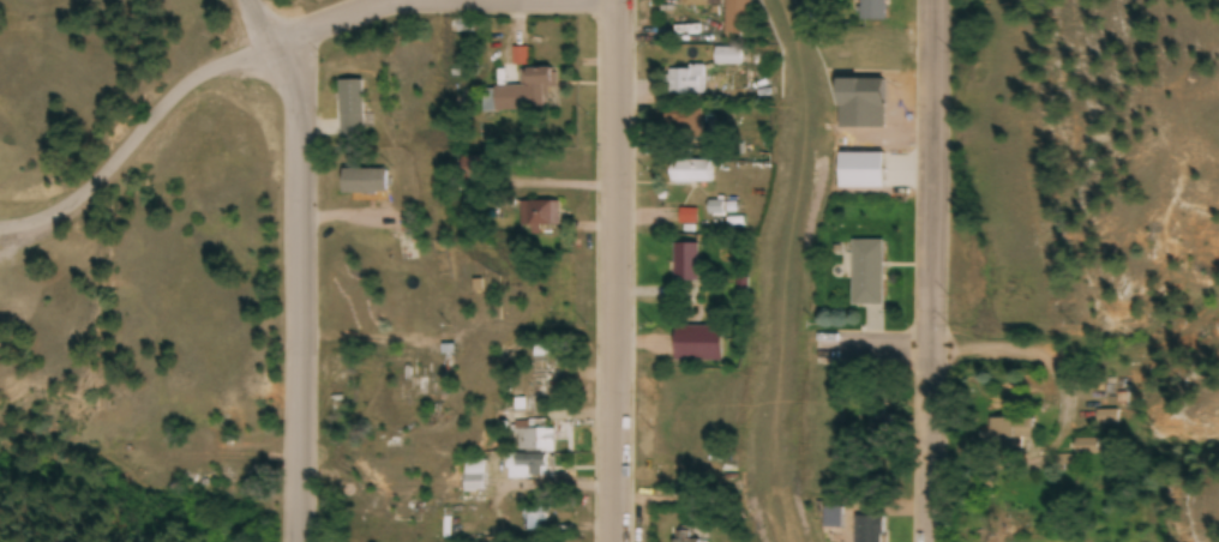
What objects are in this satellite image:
building: (693, 4)
building: (872, 10)
building: (737, 17)
road: (282, 49)
building: (727, 56)
building: (686, 80)
building: (521, 95)
building: (348, 109)
building: (683, 124)
building: (860, 171)
building: (691, 173)
building: (361, 182)
building: (539, 215)
building: (685, 263)
road: (300, 265)
road: (618, 270)
road: (931, 271)
building: (866, 273)
road: (875, 356)
building: (534, 386)
building: (409, 387)
road: (1031, 427)
building: (1005, 433)
building: (526, 434)
building: (1086, 448)
building: (523, 468)
building: (472, 478)
building: (981, 483)
building: (831, 518)
building: (535, 520)
building: (867, 529)
building: (683, 537)

